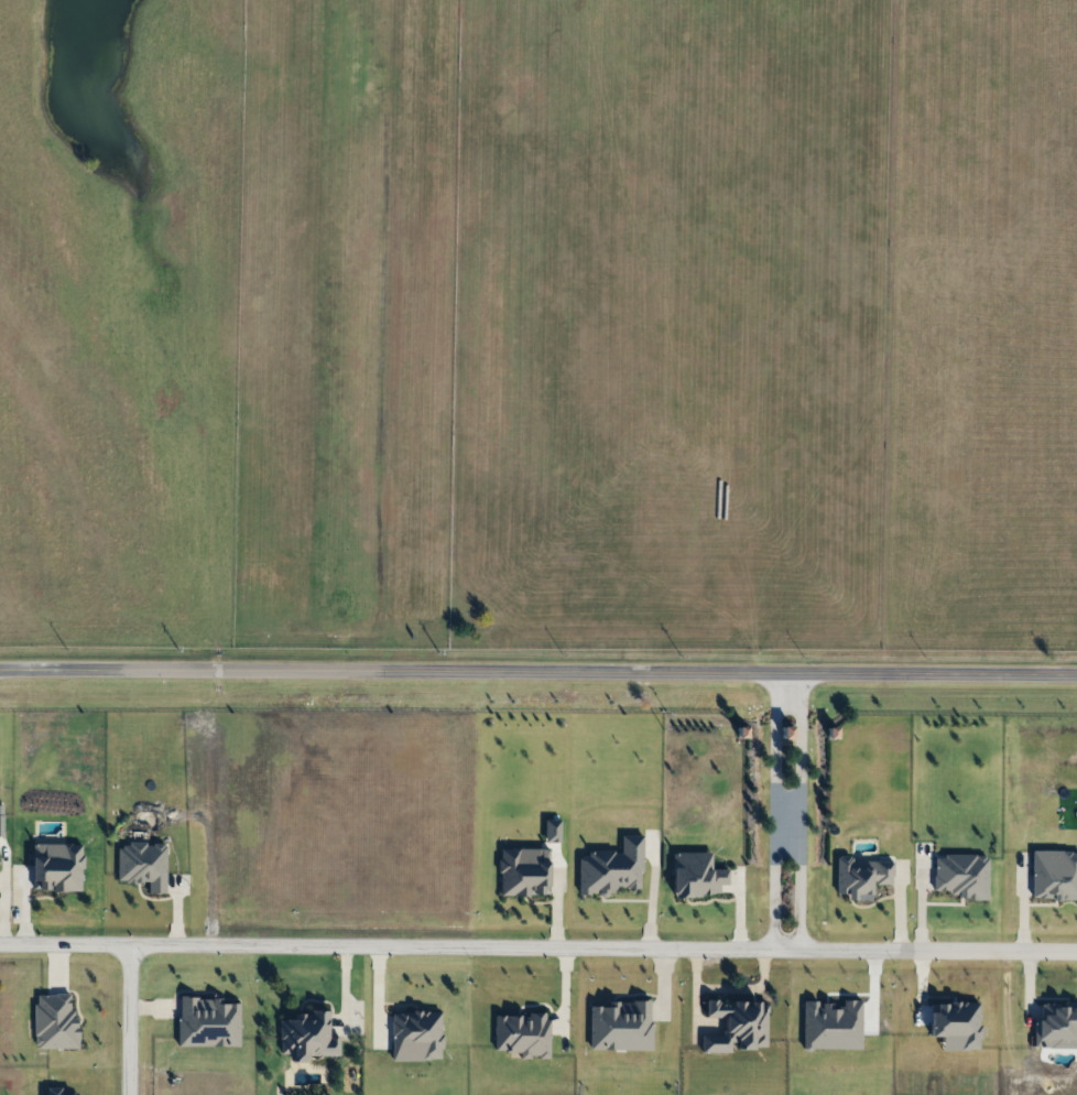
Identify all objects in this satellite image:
airport runway: (340, 625)
road: (105, 672)
road: (643, 672)
road: (773, 810)
road: (801, 810)
road: (537, 945)
road: (123, 1019)
building: (739, 1023)
building: (525, 1033)
building: (308, 1034)

